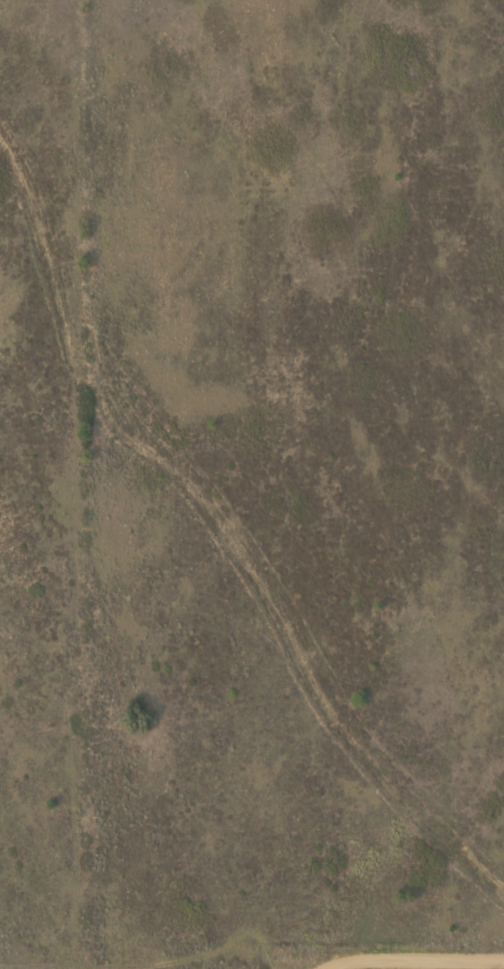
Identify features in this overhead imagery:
road: (417, 960)

